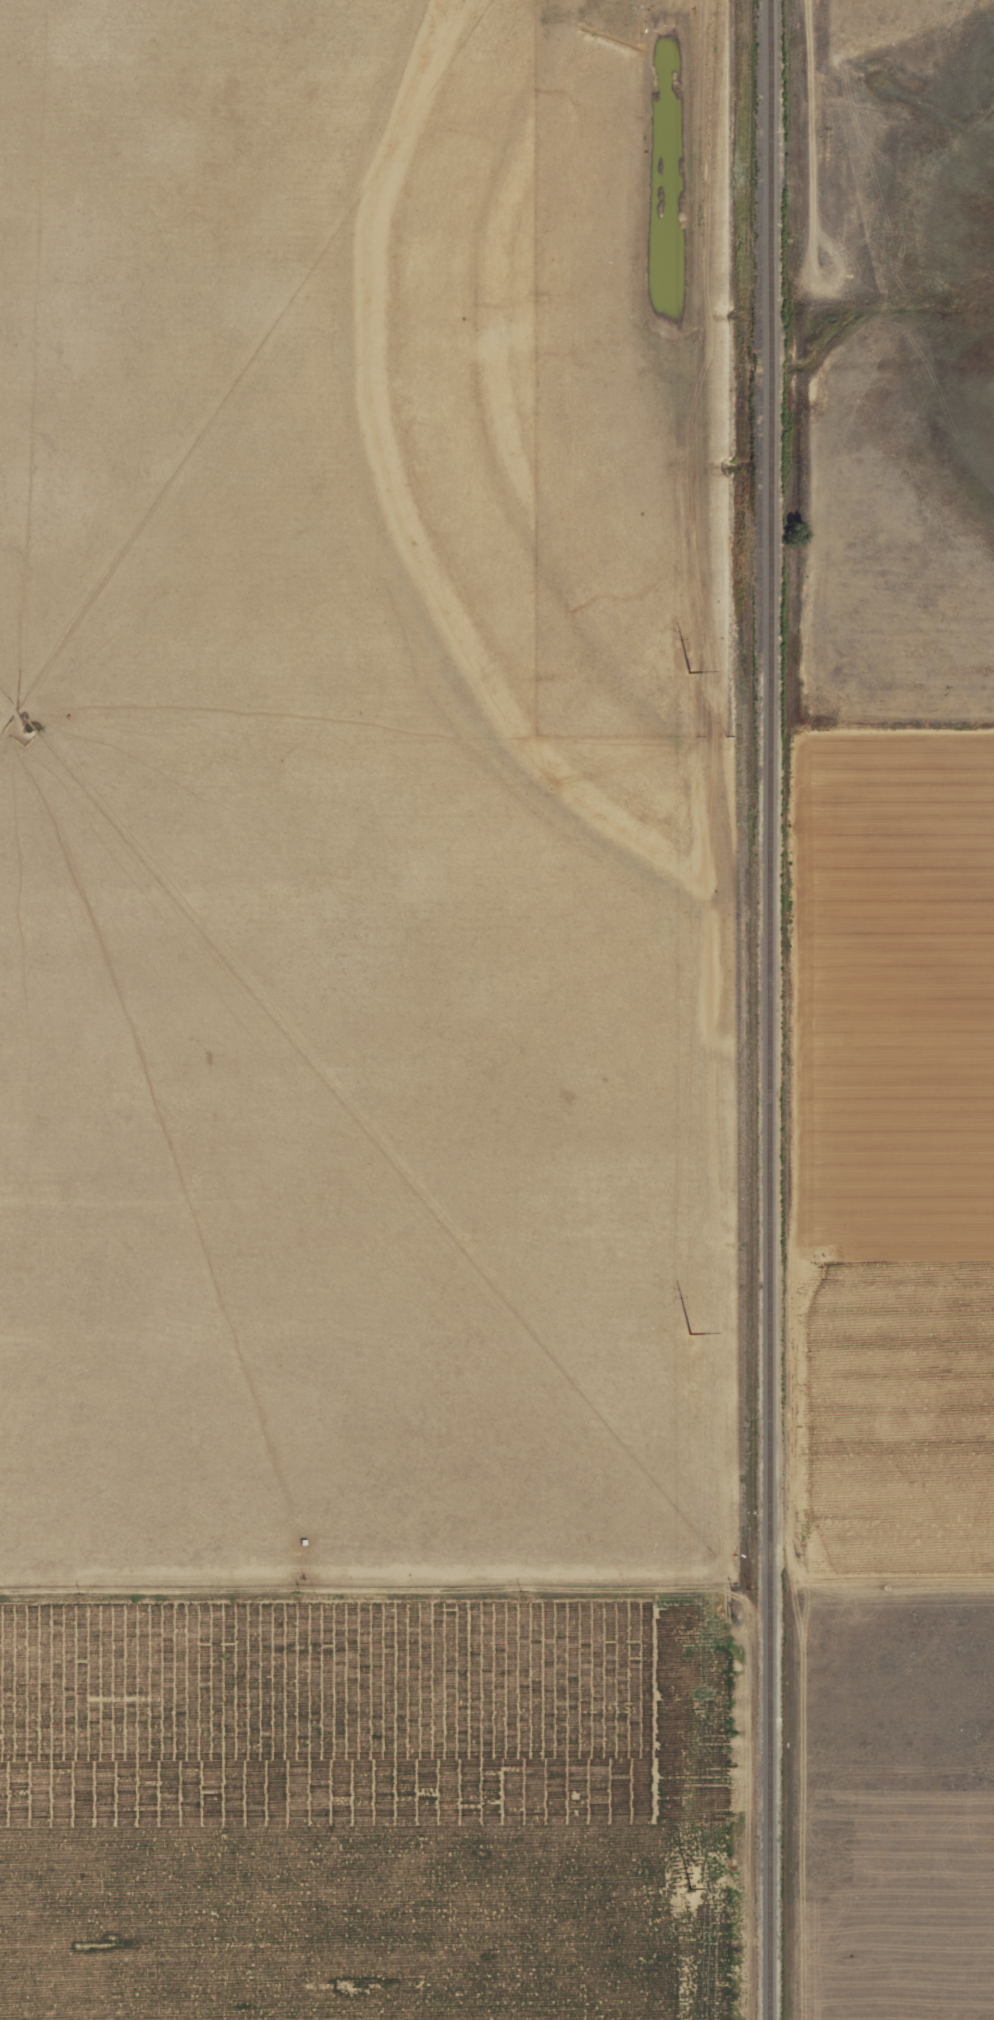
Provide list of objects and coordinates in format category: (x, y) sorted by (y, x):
railway: (769, 1010)
road: (903, 1585)
road: (364, 1601)

